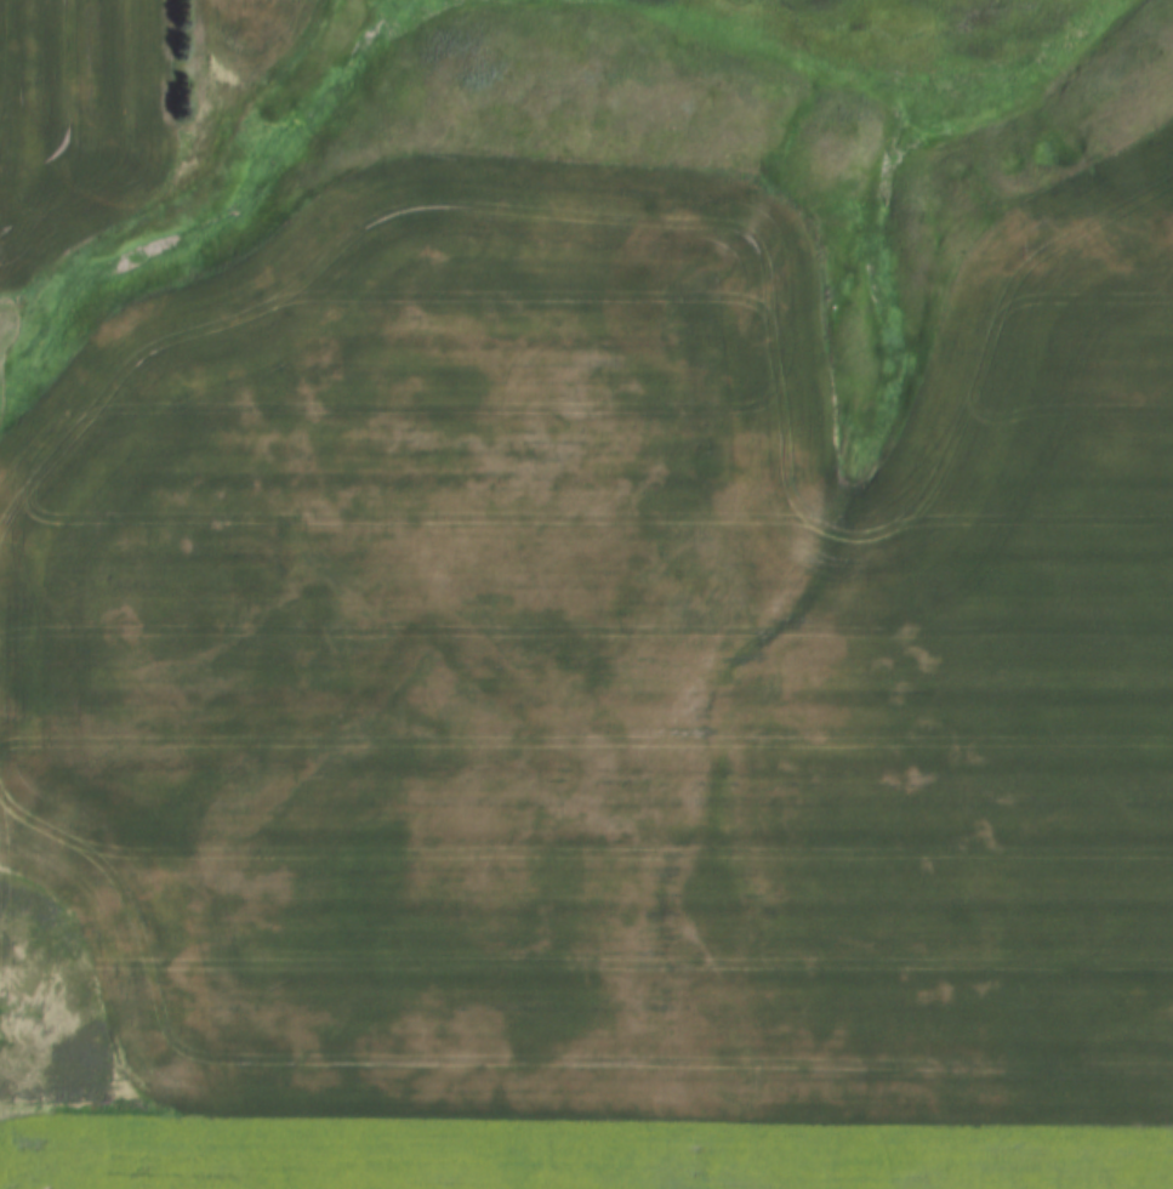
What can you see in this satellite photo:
road: (586, 1116)

